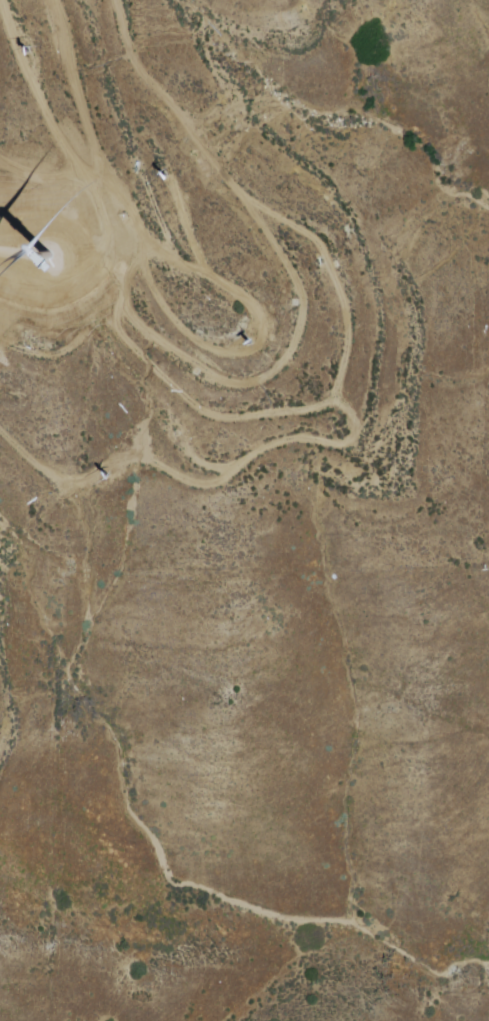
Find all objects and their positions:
wind turbine: (27, 52)
wind turbine: (165, 176)
wind turbine: (49, 257)
wind turbine: (262, 340)
wind turbine: (101, 480)

